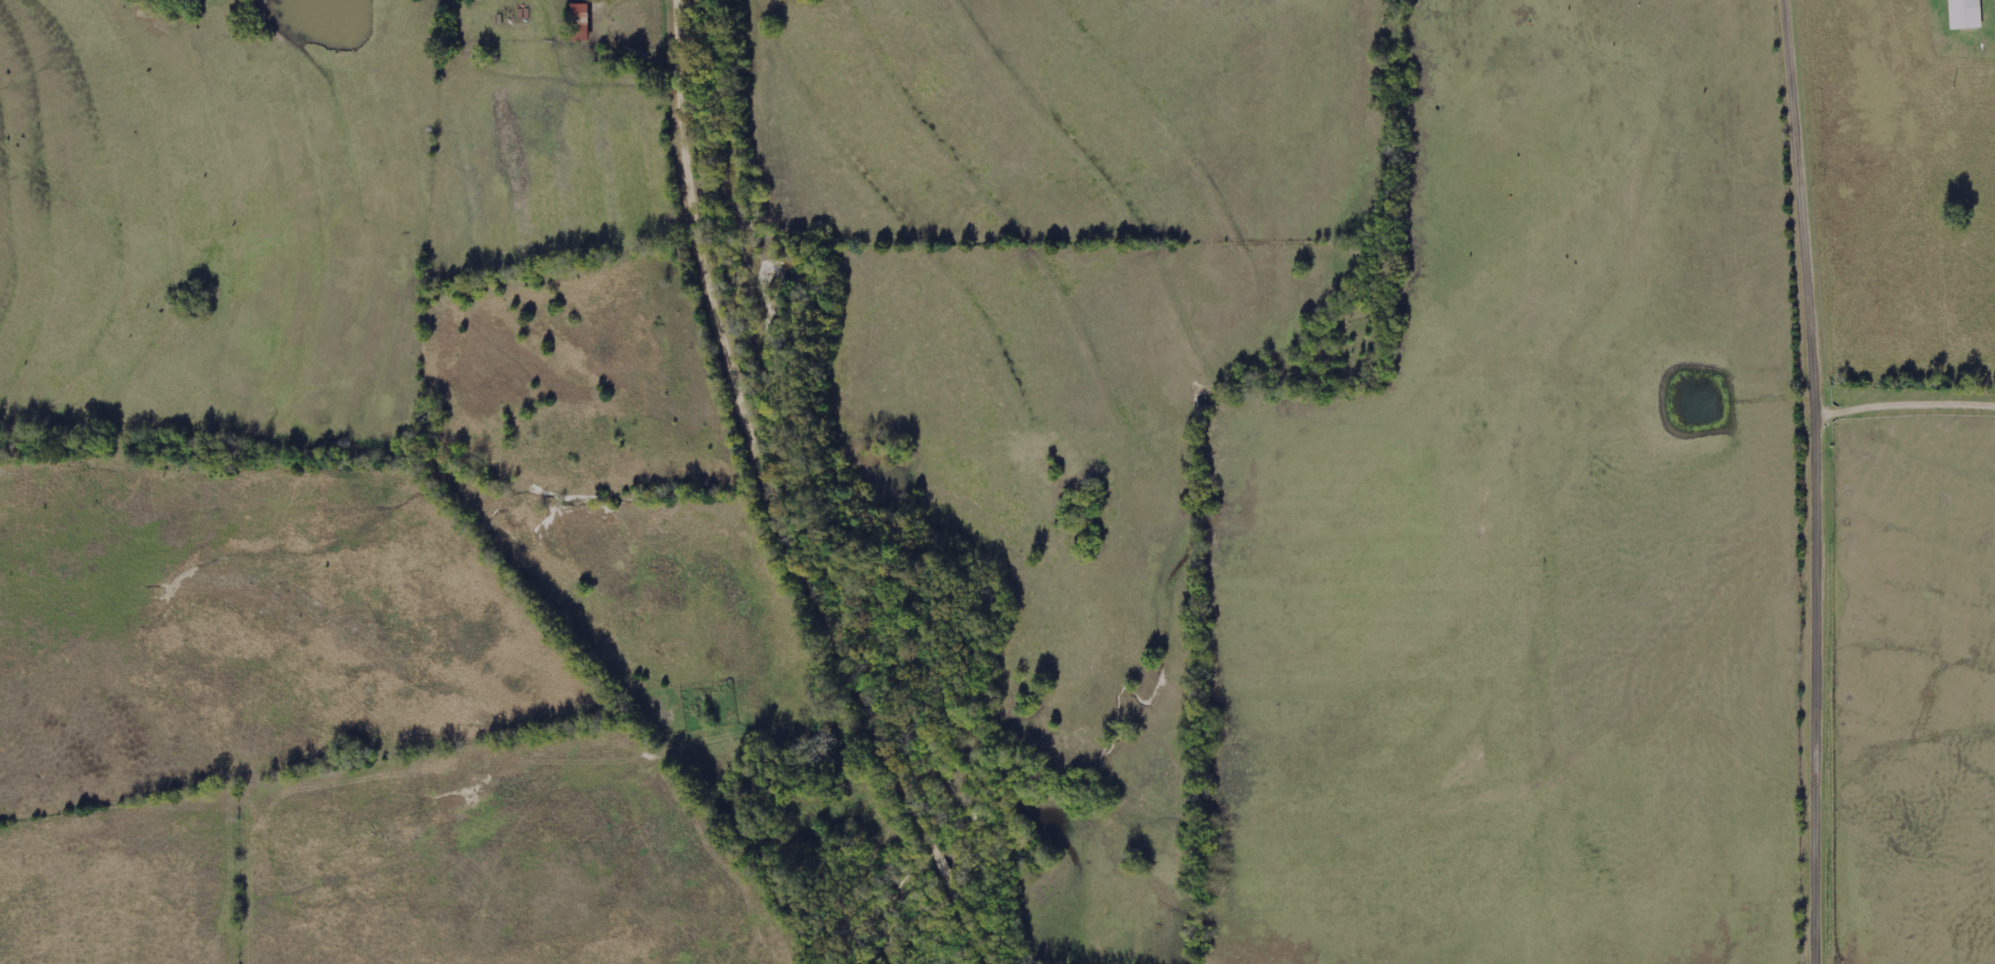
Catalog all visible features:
building: (1967, 14)
building: (582, 23)
road: (1823, 481)
road: (779, 500)

